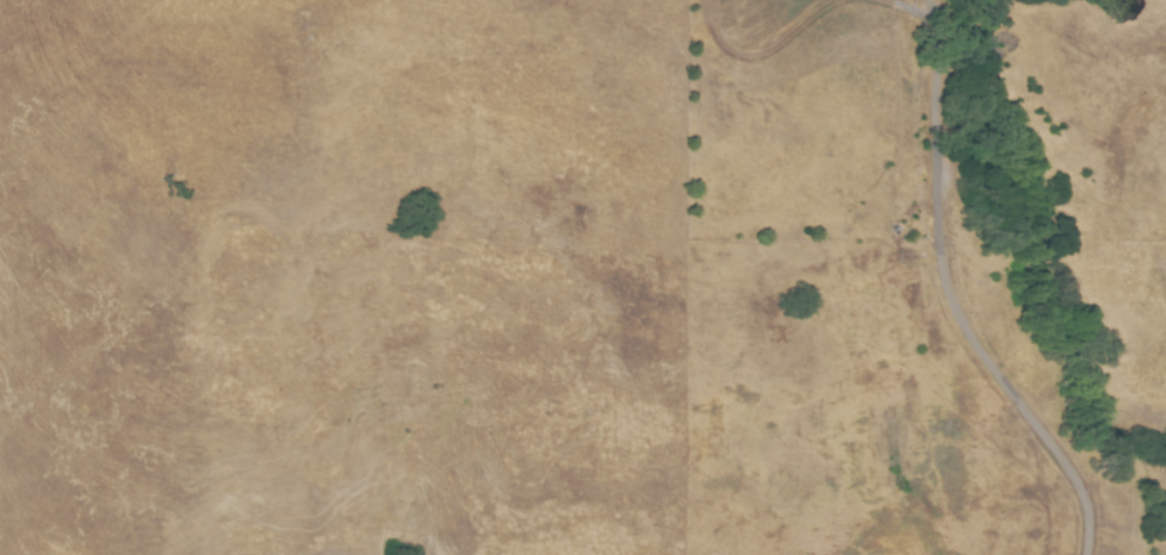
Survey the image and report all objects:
road: (953, 297)

